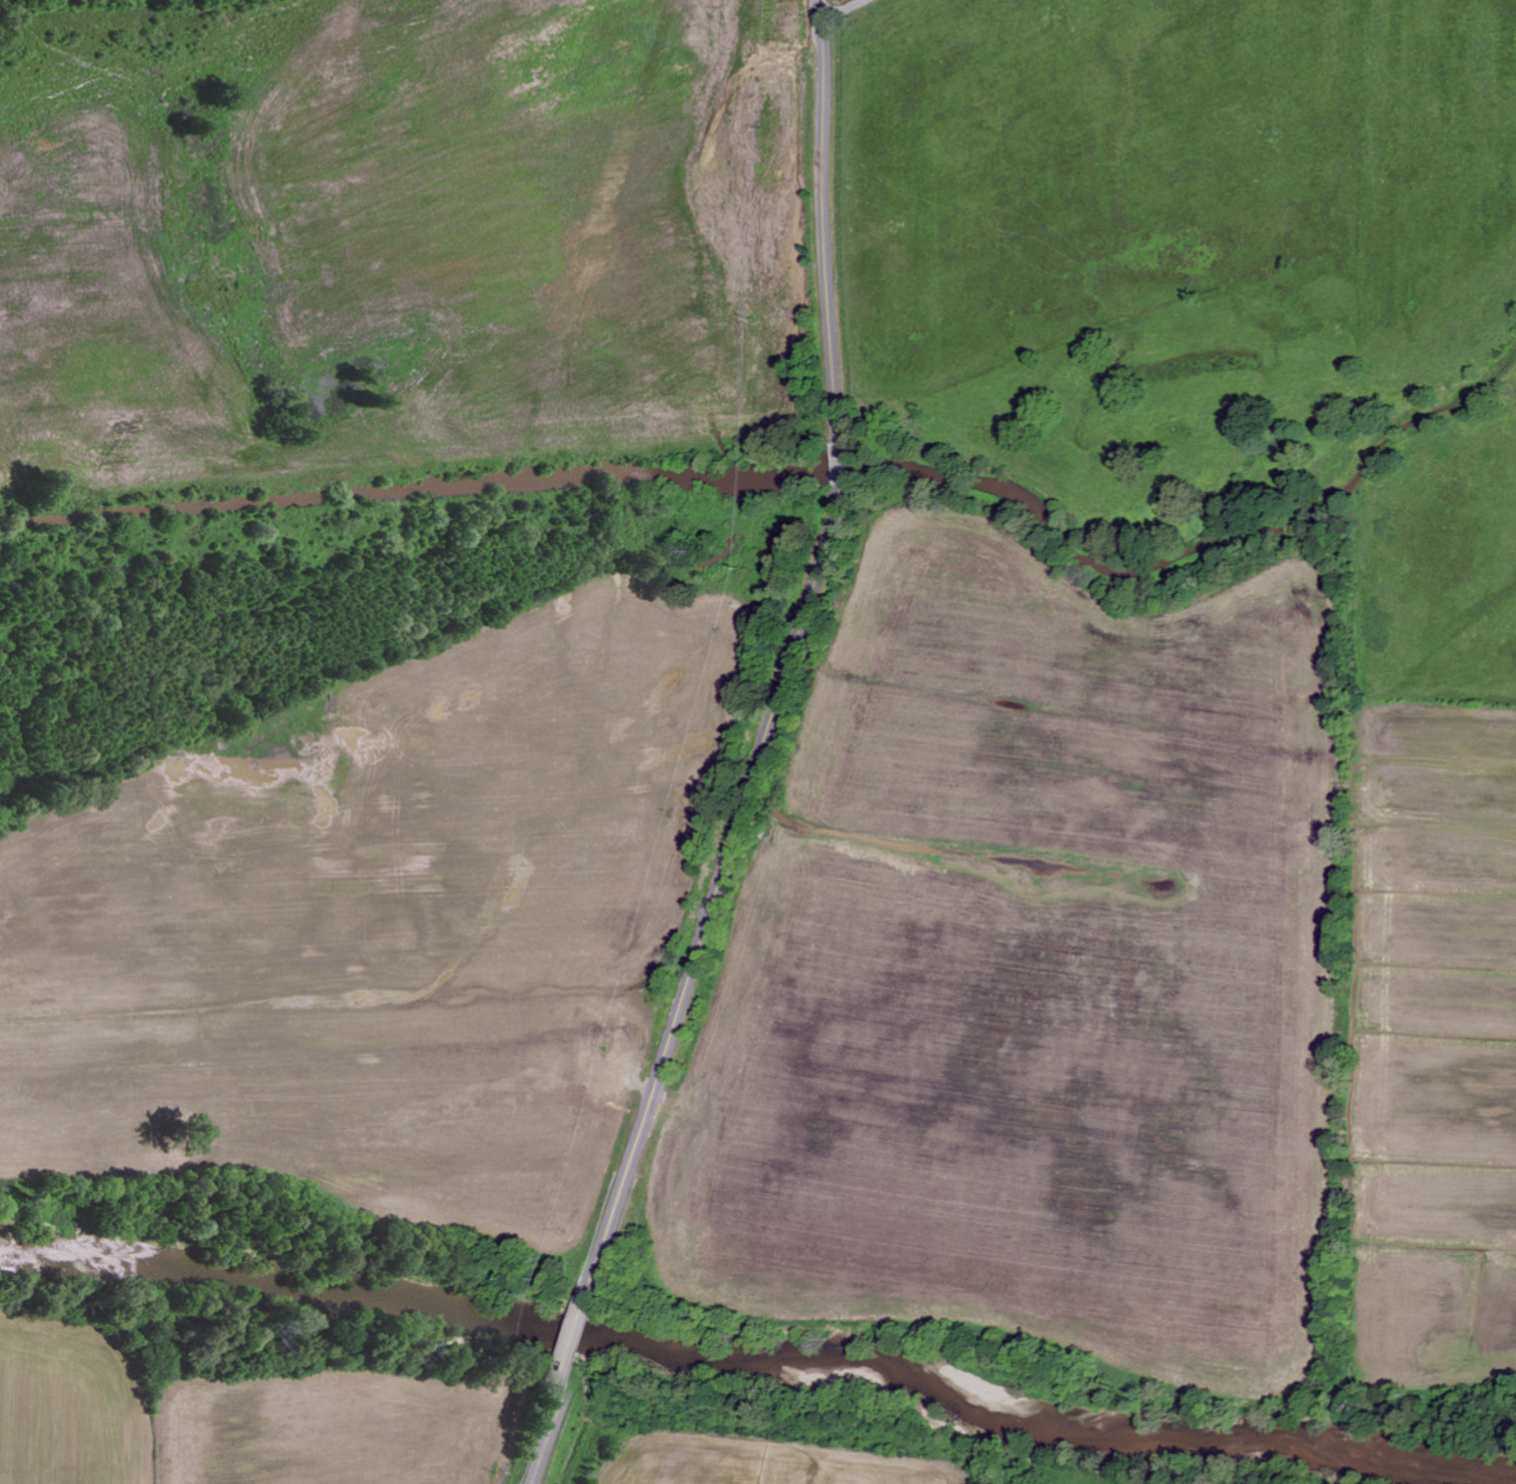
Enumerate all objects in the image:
road: (846, 11)
road: (792, 654)
road: (577, 1336)
river: (764, 1359)
road: (546, 1434)

